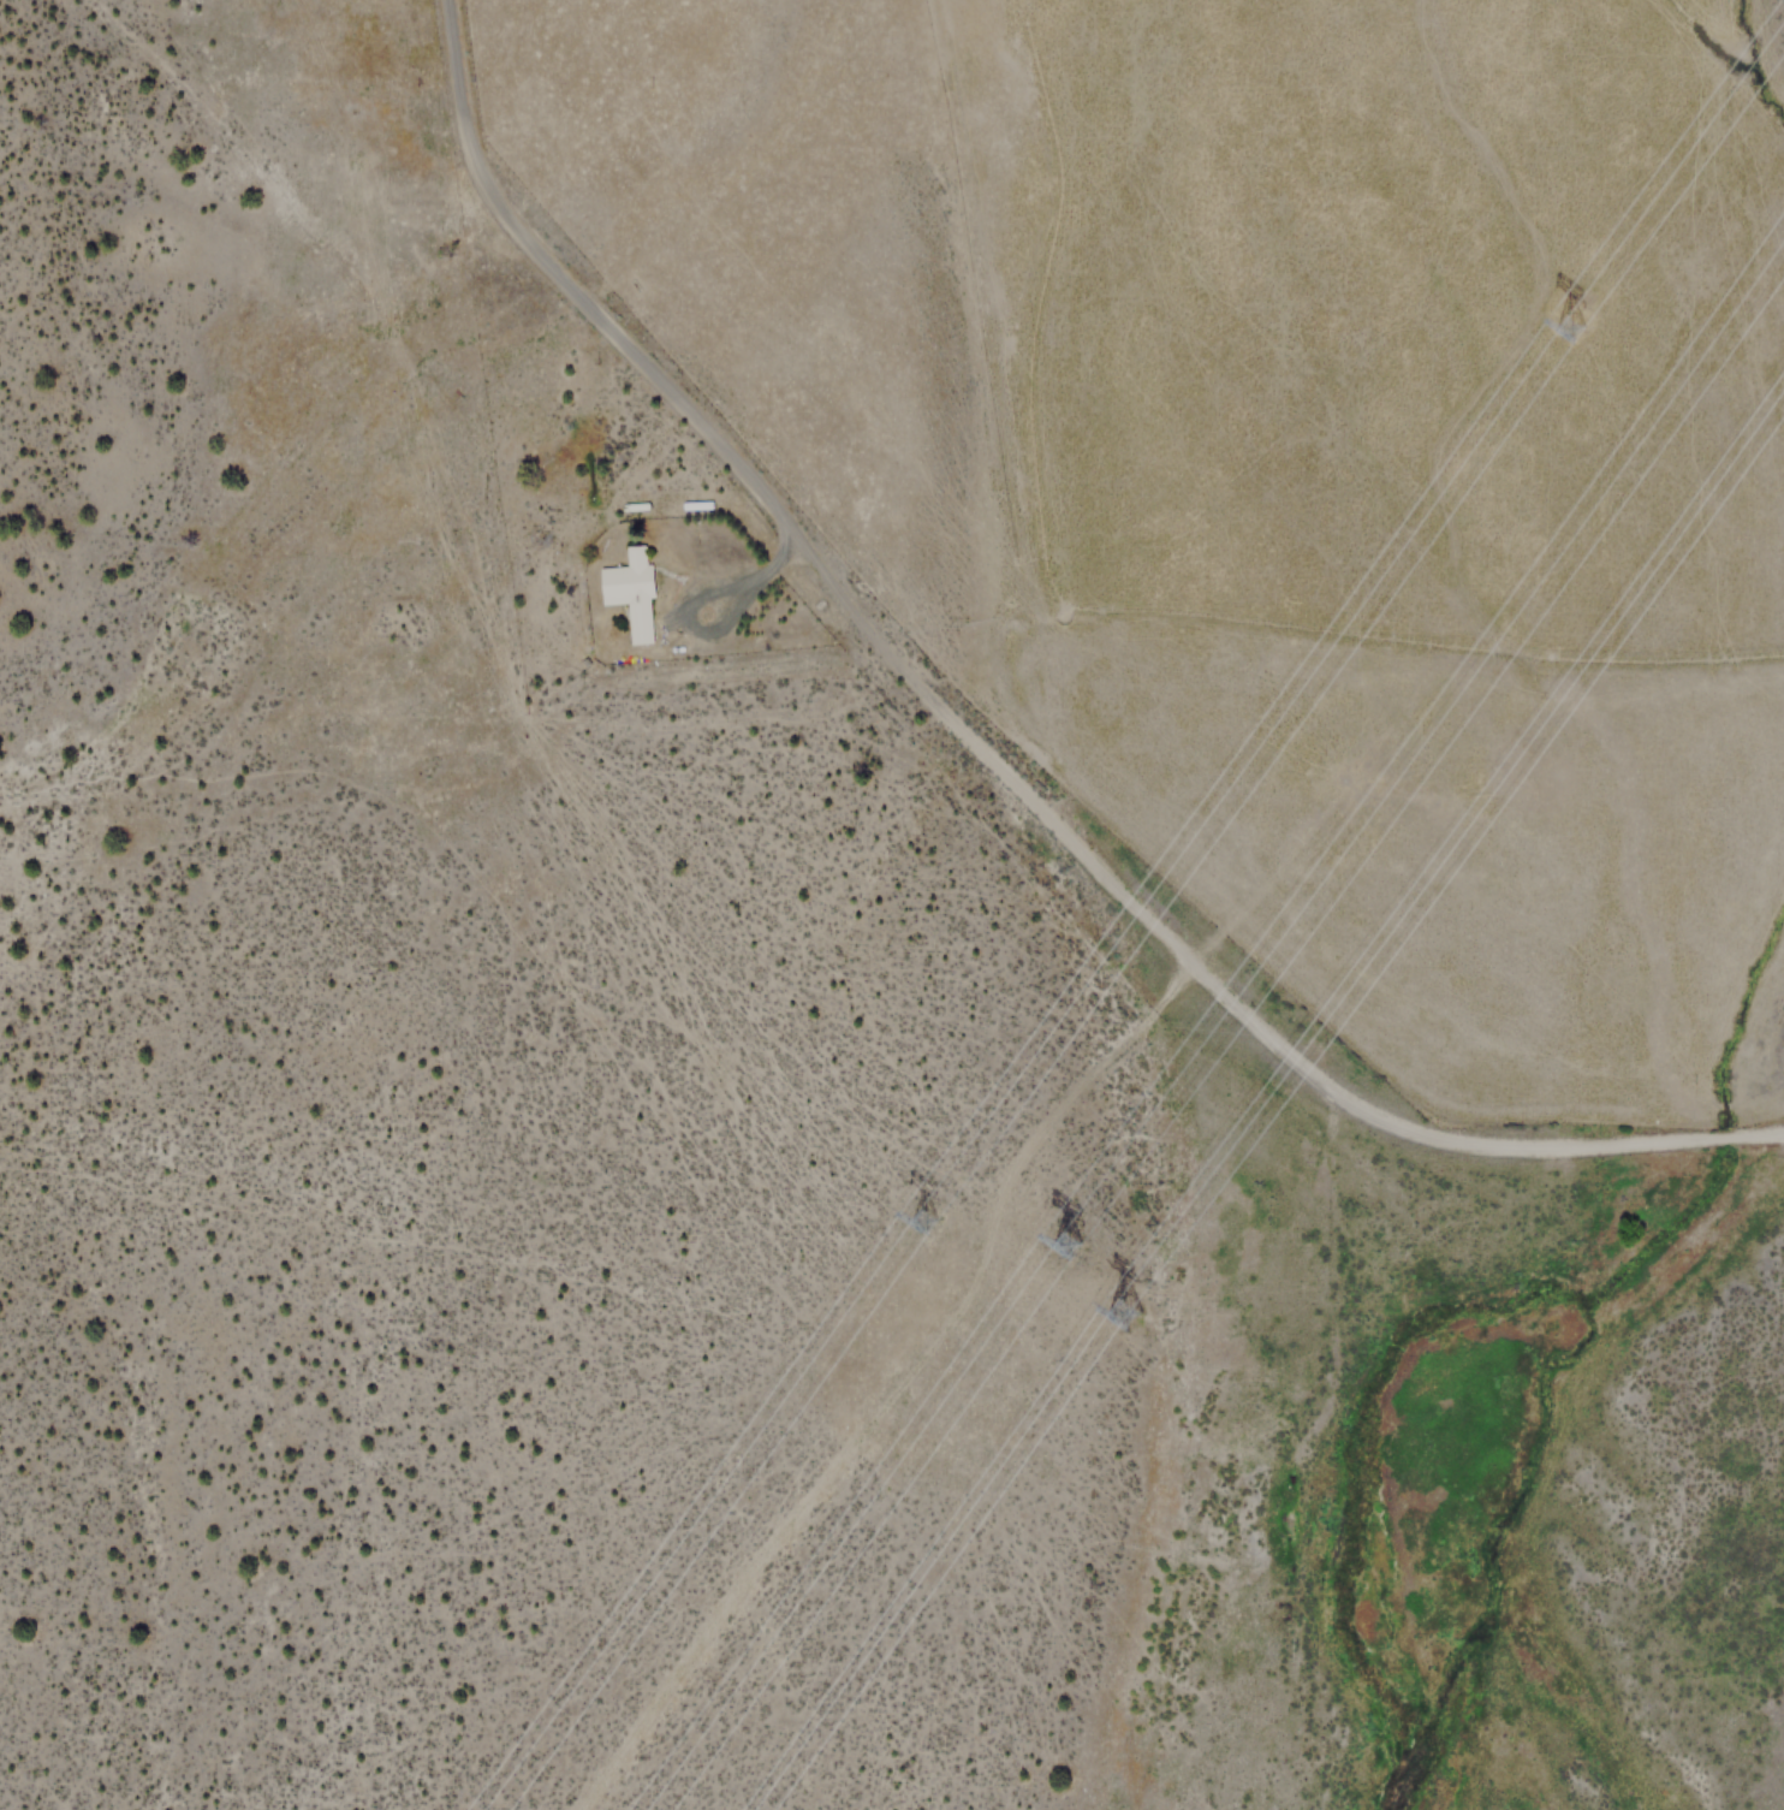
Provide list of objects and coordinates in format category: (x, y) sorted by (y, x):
power tower: (1565, 319)
building: (636, 591)
road: (983, 755)
power tower: (923, 1217)
power tower: (1075, 1236)
power tower: (1140, 1312)
road: (891, 1375)

